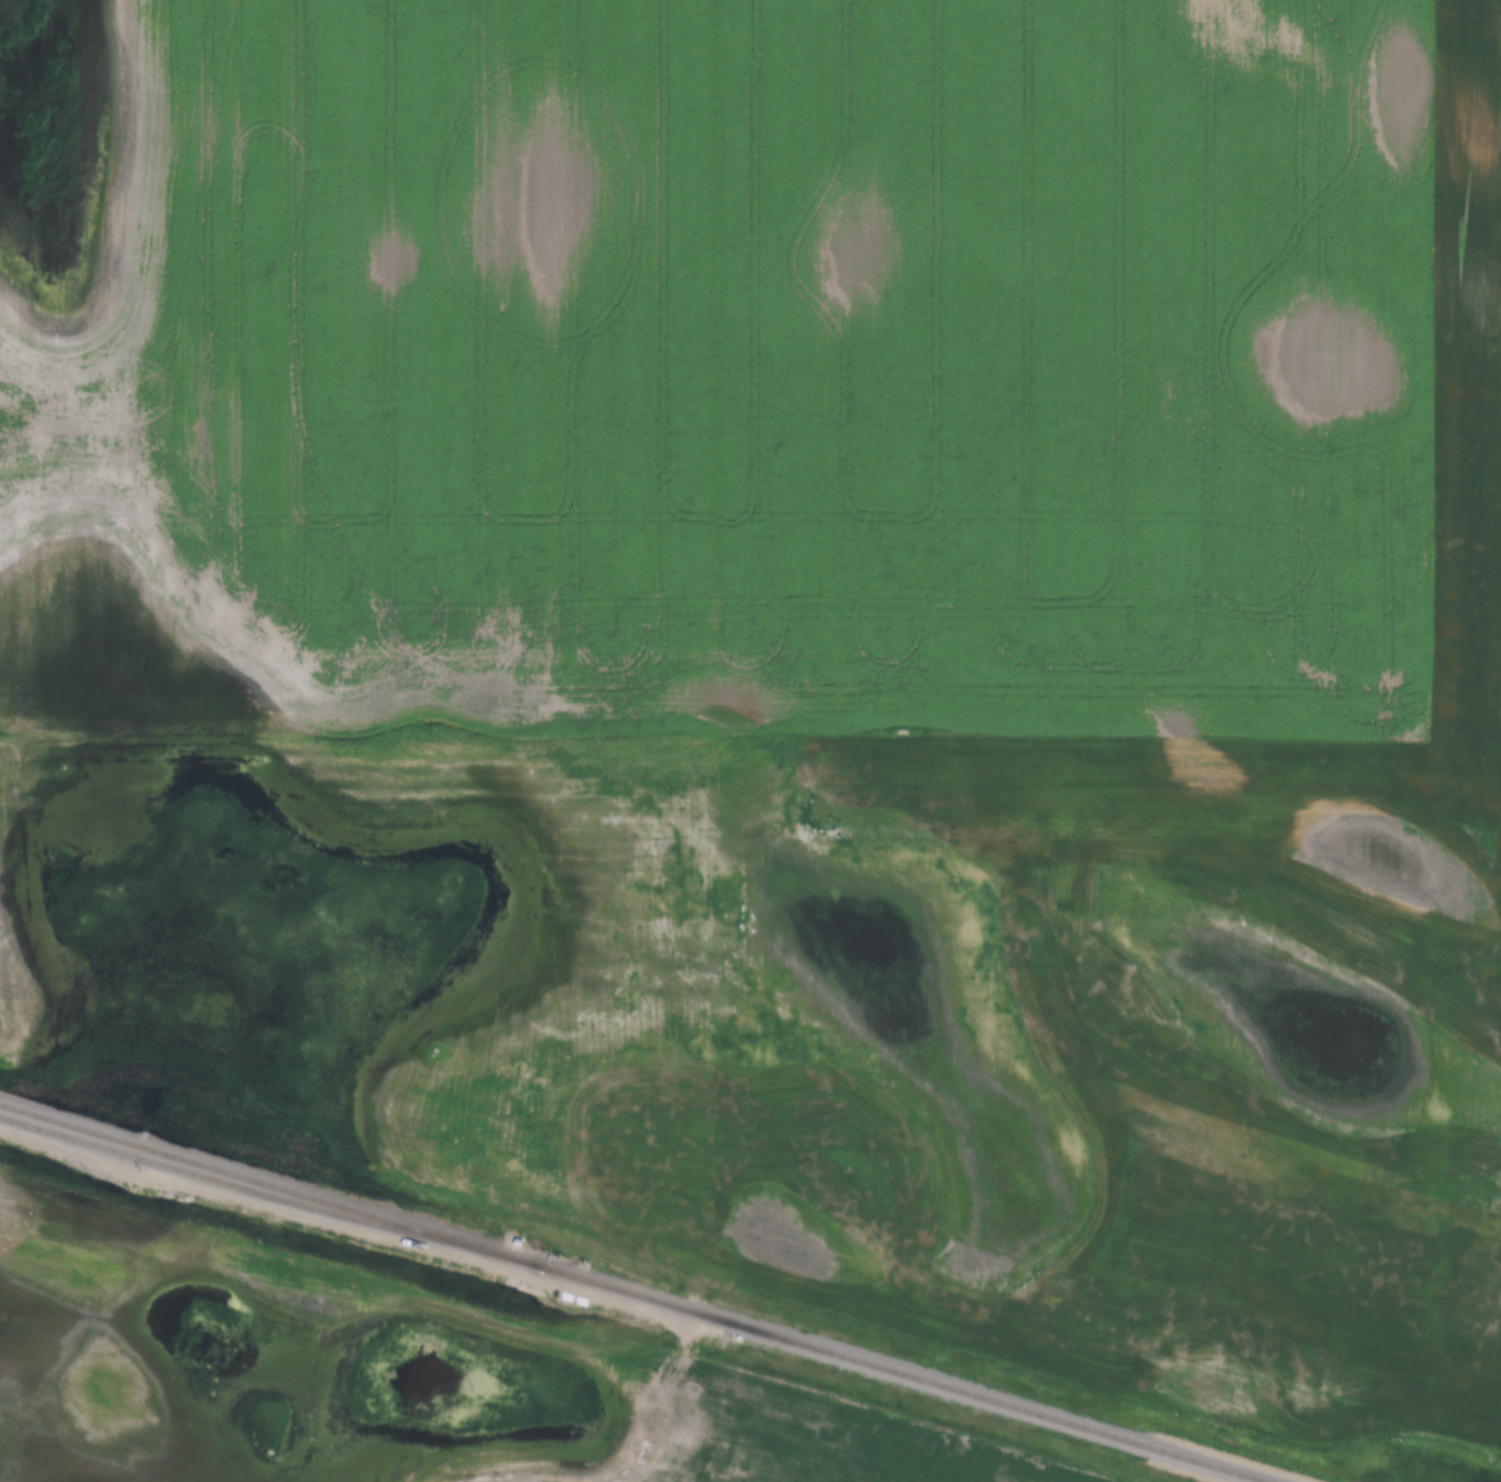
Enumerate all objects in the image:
railway: (267, 1197)
railway: (629, 1294)

